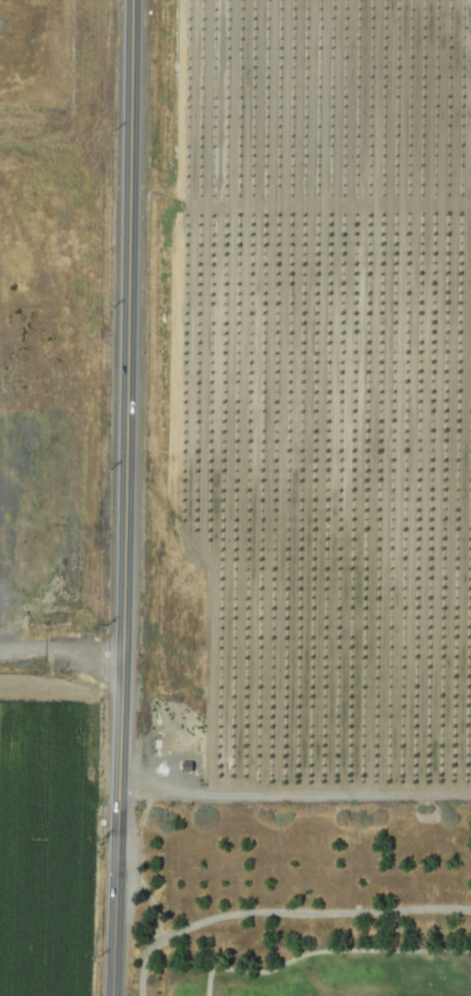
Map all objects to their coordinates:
road: (124, 498)
road: (61, 654)
road: (295, 795)
road: (132, 870)
park: (316, 881)
road: (282, 911)
road: (326, 950)
park: (316, 971)

